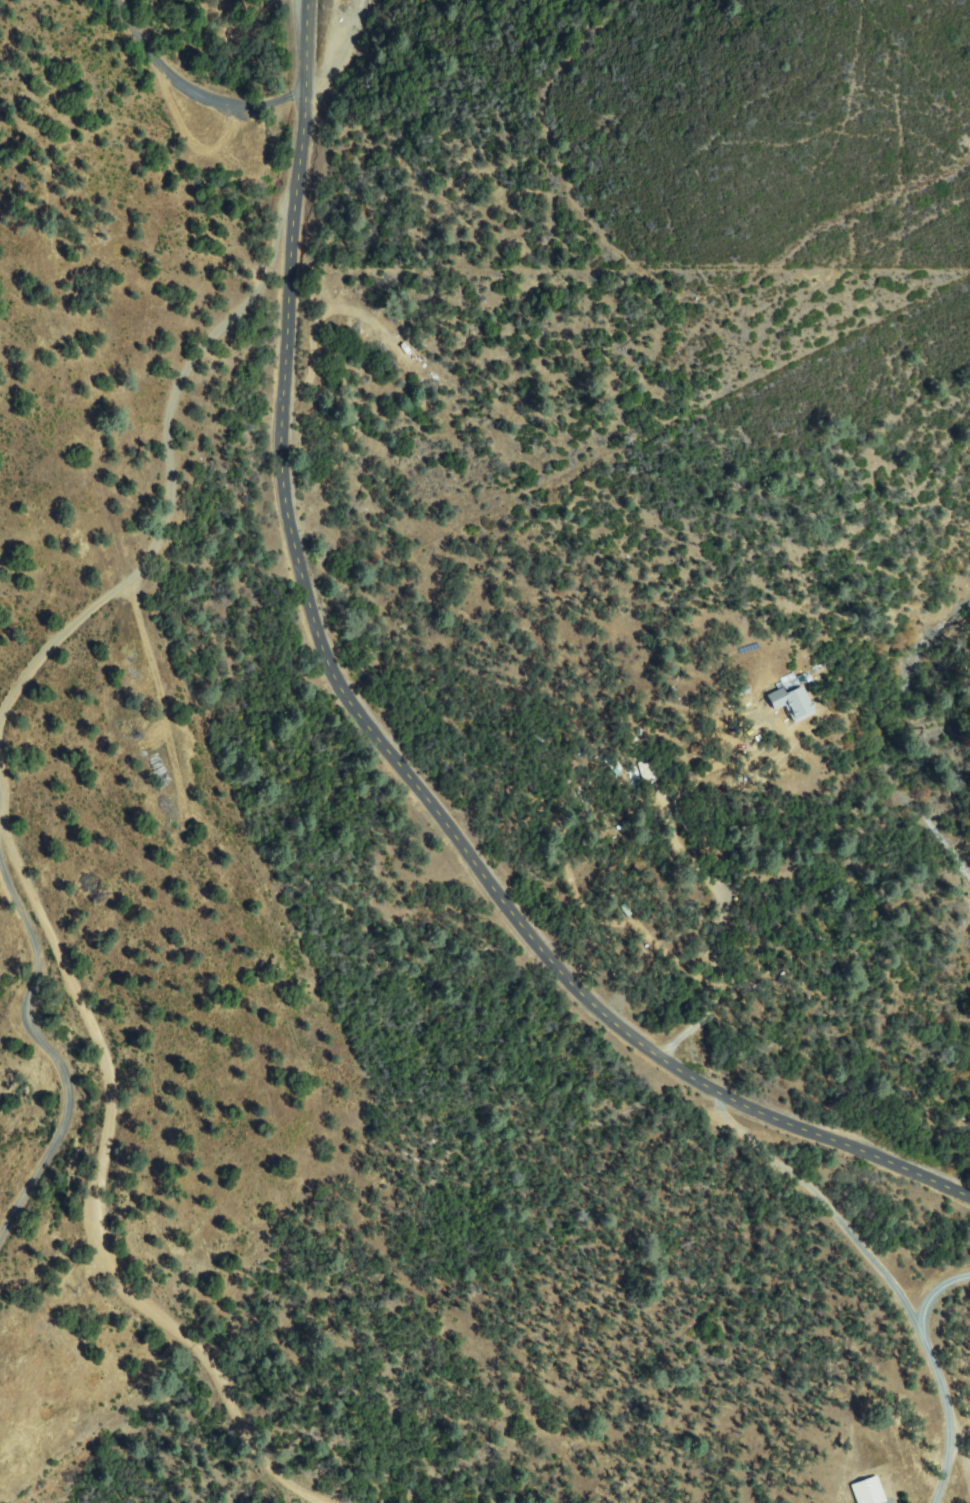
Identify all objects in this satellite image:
road: (343, 52)
road: (189, 92)
road: (172, 474)
road: (374, 747)
road: (33, 1011)
road: (101, 1199)
road: (872, 1260)
road: (934, 1297)
road: (949, 1456)
building: (868, 1491)

